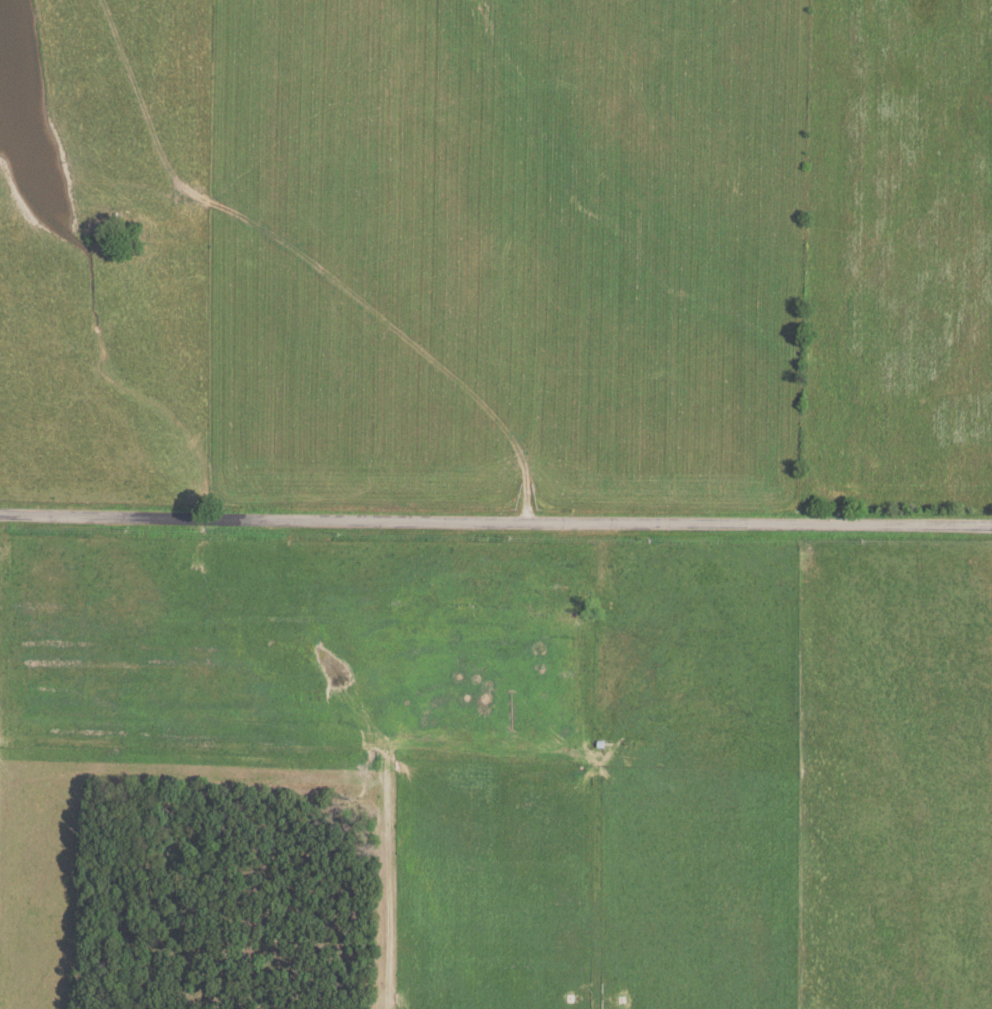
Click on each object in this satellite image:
road: (495, 522)

